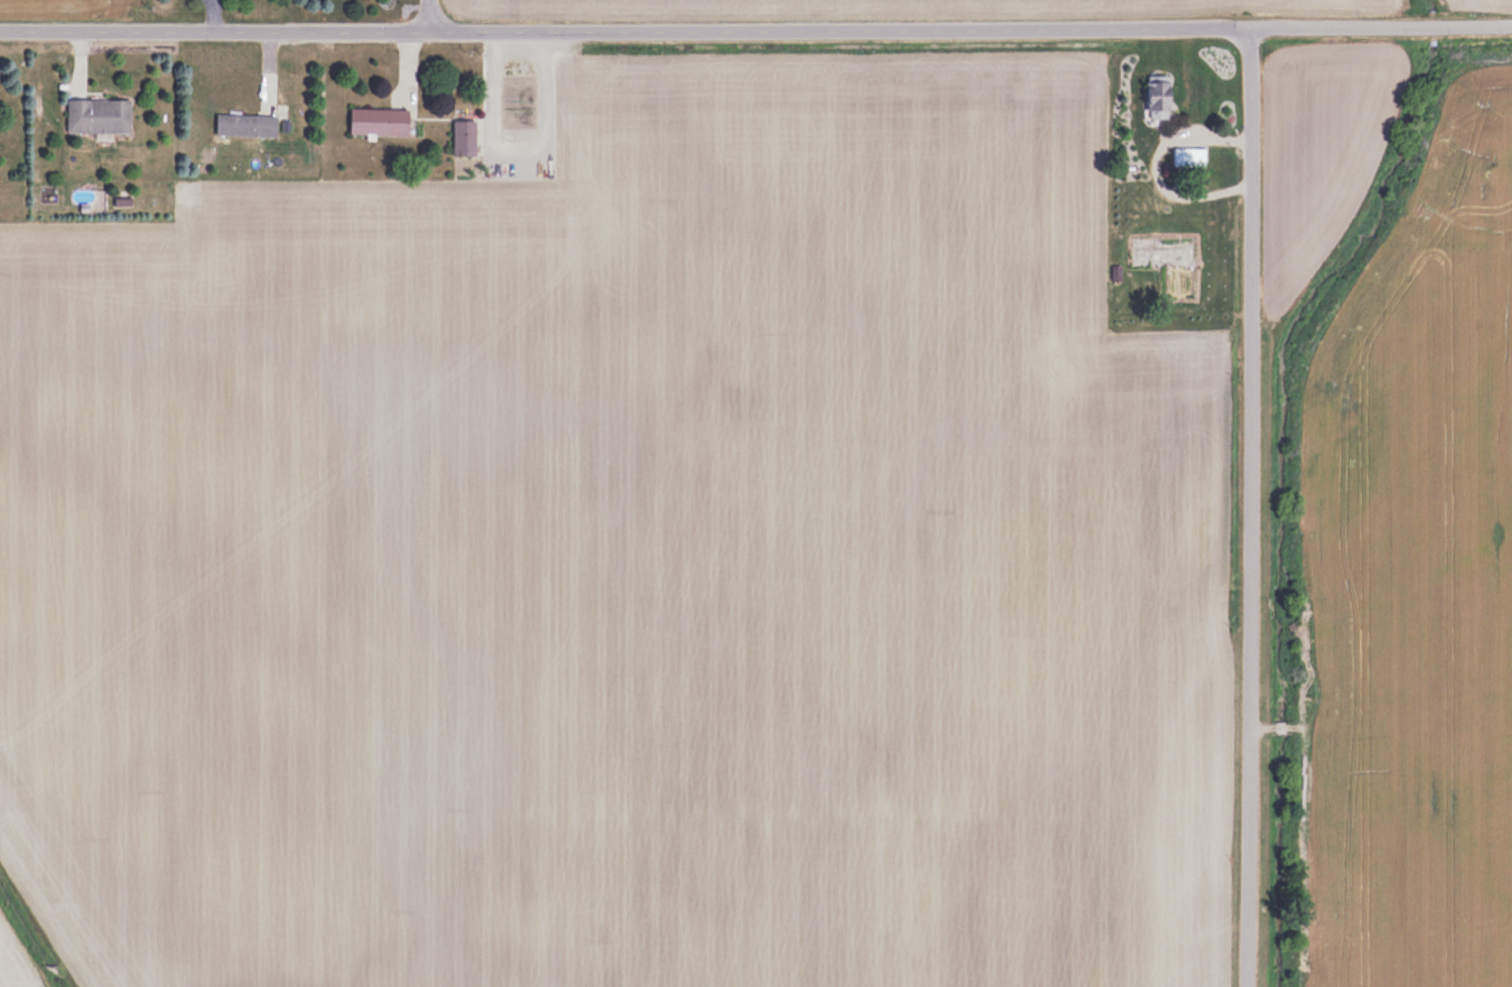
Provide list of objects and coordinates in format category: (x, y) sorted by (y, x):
road: (429, 18)
road: (756, 34)
building: (1155, 98)
building: (96, 116)
building: (376, 121)
building: (244, 124)
building: (462, 138)
building: (1114, 272)
road: (1251, 509)

